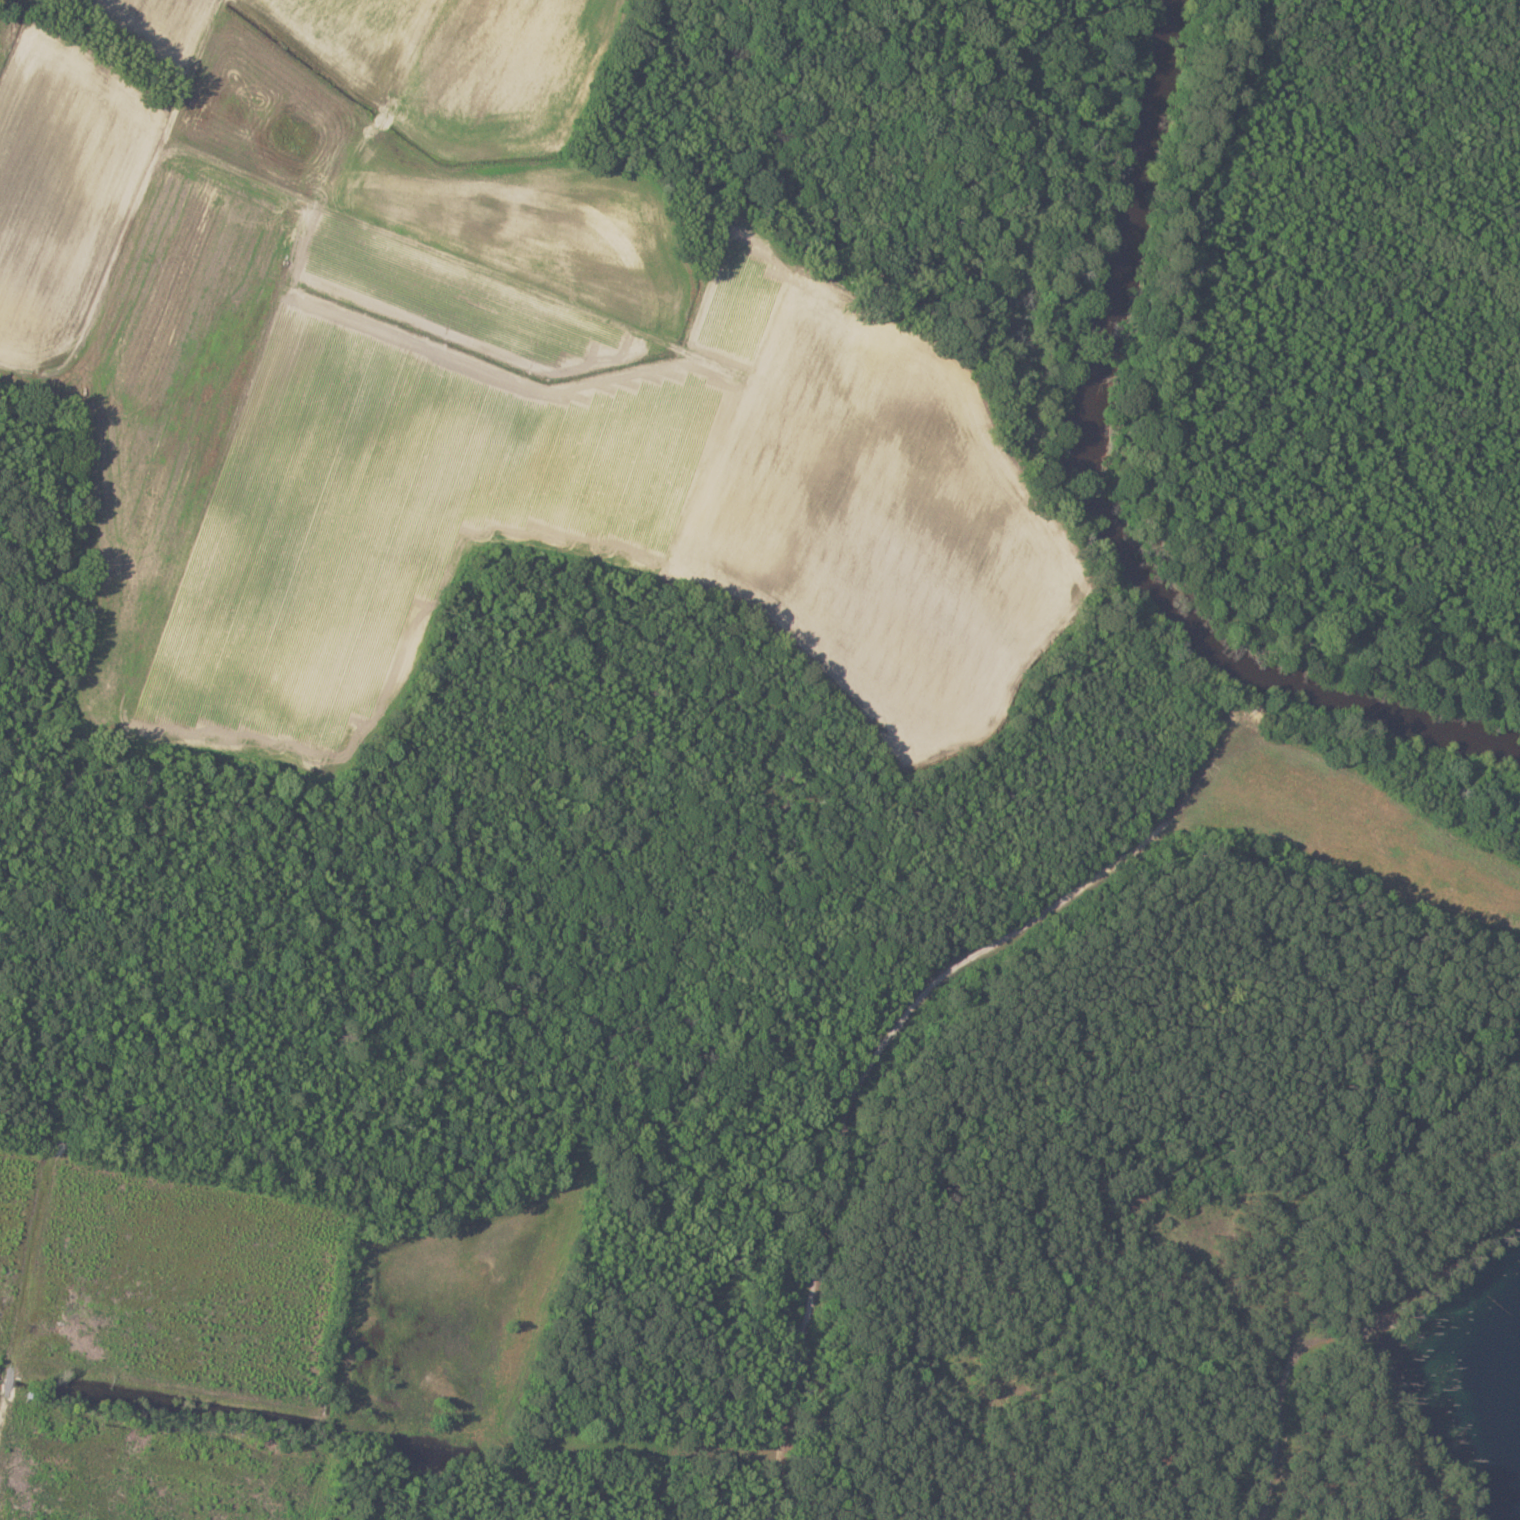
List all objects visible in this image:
river: (1123, 497)
road: (1337, 1321)

